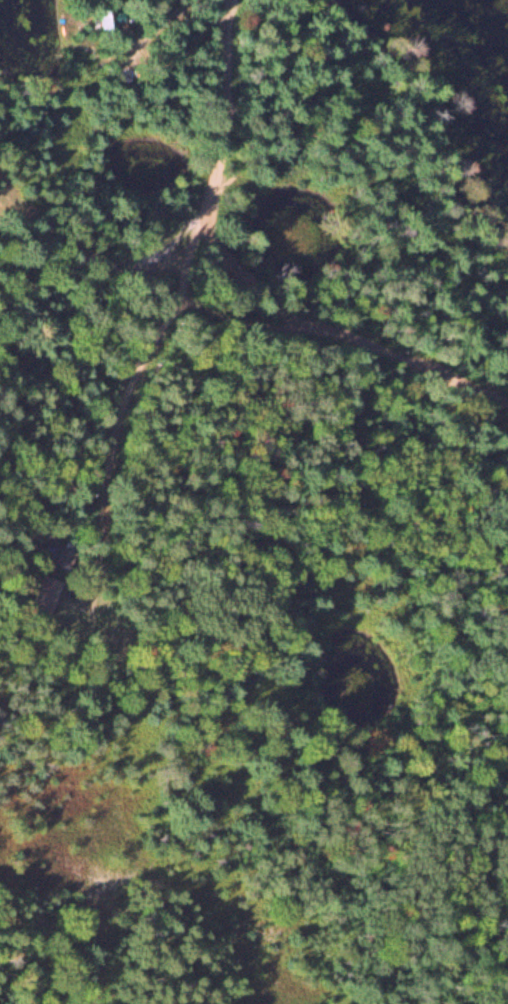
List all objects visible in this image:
road: (245, 279)
building: (63, 558)
building: (44, 597)

